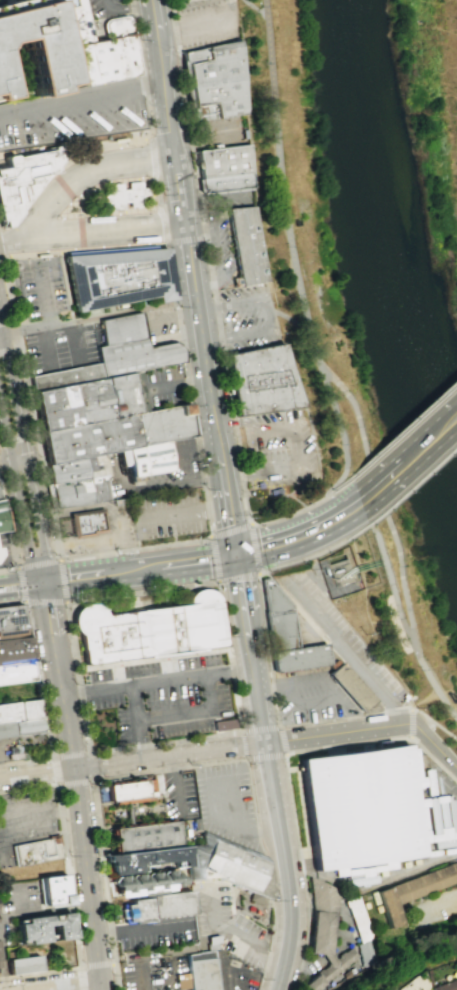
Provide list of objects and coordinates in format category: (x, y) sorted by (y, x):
road: (2, 0)
road: (125, 8)
road: (252, 8)
parking lot: (105, 10)
road: (153, 16)
parking lot: (205, 22)
road: (202, 23)
building: (91, 25)
building: (35, 41)
building: (105, 61)
road: (140, 68)
building: (214, 80)
building: (1, 88)
road: (164, 94)
road: (80, 99)
parking lot: (72, 114)
parking lot: (217, 132)
road: (203, 136)
traffic signals: (173, 155)
road: (153, 157)
road: (153, 158)
road: (63, 165)
road: (114, 165)
building: (223, 169)
building: (23, 179)
road: (177, 184)
road: (63, 186)
road: (187, 187)
road: (171, 190)
building: (124, 194)
road: (53, 199)
road: (162, 224)
traffic signals: (183, 224)
road: (168, 226)
road: (121, 230)
parking lot: (224, 231)
road: (80, 233)
road: (286, 235)
road: (54, 236)
road: (10, 240)
road: (185, 240)
building: (246, 244)
river: (391, 245)
road: (83, 249)
road: (215, 250)
road: (0, 254)
building: (118, 281)
road: (65, 287)
road: (8, 289)
parking lot: (43, 289)
road: (47, 296)
road: (214, 302)
park: (367, 302)
road: (269, 313)
road: (98, 317)
parking lot: (247, 317)
road: (288, 319)
road: (7, 323)
road: (199, 326)
road: (15, 335)
road: (1, 338)
road: (8, 350)
building: (262, 379)
road: (188, 390)
building: (105, 415)
road: (452, 421)
road: (405, 426)
road: (17, 440)
road: (296, 445)
road: (340, 447)
road: (198, 448)
parking lot: (277, 448)
road: (26, 450)
road: (37, 454)
road: (20, 460)
road: (6, 461)
road: (405, 463)
road: (414, 484)
road: (339, 485)
road: (378, 488)
road: (226, 490)
road: (18, 493)
road: (275, 494)
building: (0, 497)
road: (297, 500)
building: (1, 519)
building: (86, 522)
road: (12, 531)
road: (230, 531)
road: (302, 532)
road: (253, 549)
building: (0, 551)
road: (319, 551)
traffic signals: (237, 552)
road: (56, 556)
building: (0, 558)
road: (214, 558)
road: (61, 559)
road: (186, 560)
road: (37, 561)
building: (341, 570)
road: (90, 573)
road: (238, 576)
road: (402, 579)
traffic signals: (46, 580)
road: (64, 581)
road: (389, 581)
road: (22, 582)
road: (20, 585)
road: (45, 602)
road: (292, 602)
road: (248, 615)
road: (50, 617)
building: (149, 630)
building: (287, 636)
road: (349, 636)
parking lot: (357, 640)
road: (336, 641)
building: (16, 648)
road: (349, 653)
road: (429, 682)
road: (160, 684)
road: (328, 686)
building: (350, 687)
road: (41, 694)
parking lot: (166, 698)
road: (290, 698)
parking lot: (308, 700)
road: (133, 705)
building: (10, 713)
road: (168, 716)
building: (31, 719)
road: (413, 722)
road: (423, 722)
building: (223, 724)
road: (410, 724)
road: (279, 726)
building: (8, 731)
road: (442, 731)
road: (241, 732)
road: (440, 738)
road: (438, 745)
road: (200, 752)
road: (283, 755)
road: (181, 769)
road: (286, 777)
road: (91, 781)
road: (174, 785)
building: (133, 792)
parking lot: (178, 796)
parking lot: (225, 803)
building: (360, 807)
road: (39, 815)
parking lot: (27, 818)
road: (81, 821)
road: (237, 825)
road: (283, 834)
building: (142, 837)
building: (36, 851)
building: (146, 859)
building: (228, 866)
road: (421, 866)
building: (148, 882)
building: (424, 884)
road: (71, 888)
building: (53, 890)
parking lot: (19, 898)
road: (441, 901)
building: (154, 907)
parking lot: (435, 908)
building: (389, 910)
road: (44, 912)
building: (357, 921)
building: (44, 928)
parking lot: (227, 928)
parking lot: (154, 935)
road: (142, 936)
road: (237, 936)
building: (328, 937)
building: (370, 956)
building: (24, 965)
road: (2, 967)
road: (86, 967)
building: (201, 971)
parking lot: (151, 973)
parking lot: (234, 974)
road: (145, 978)
road: (230, 980)
building: (313, 982)
building: (446, 985)
road: (76, 986)
building: (423, 989)

